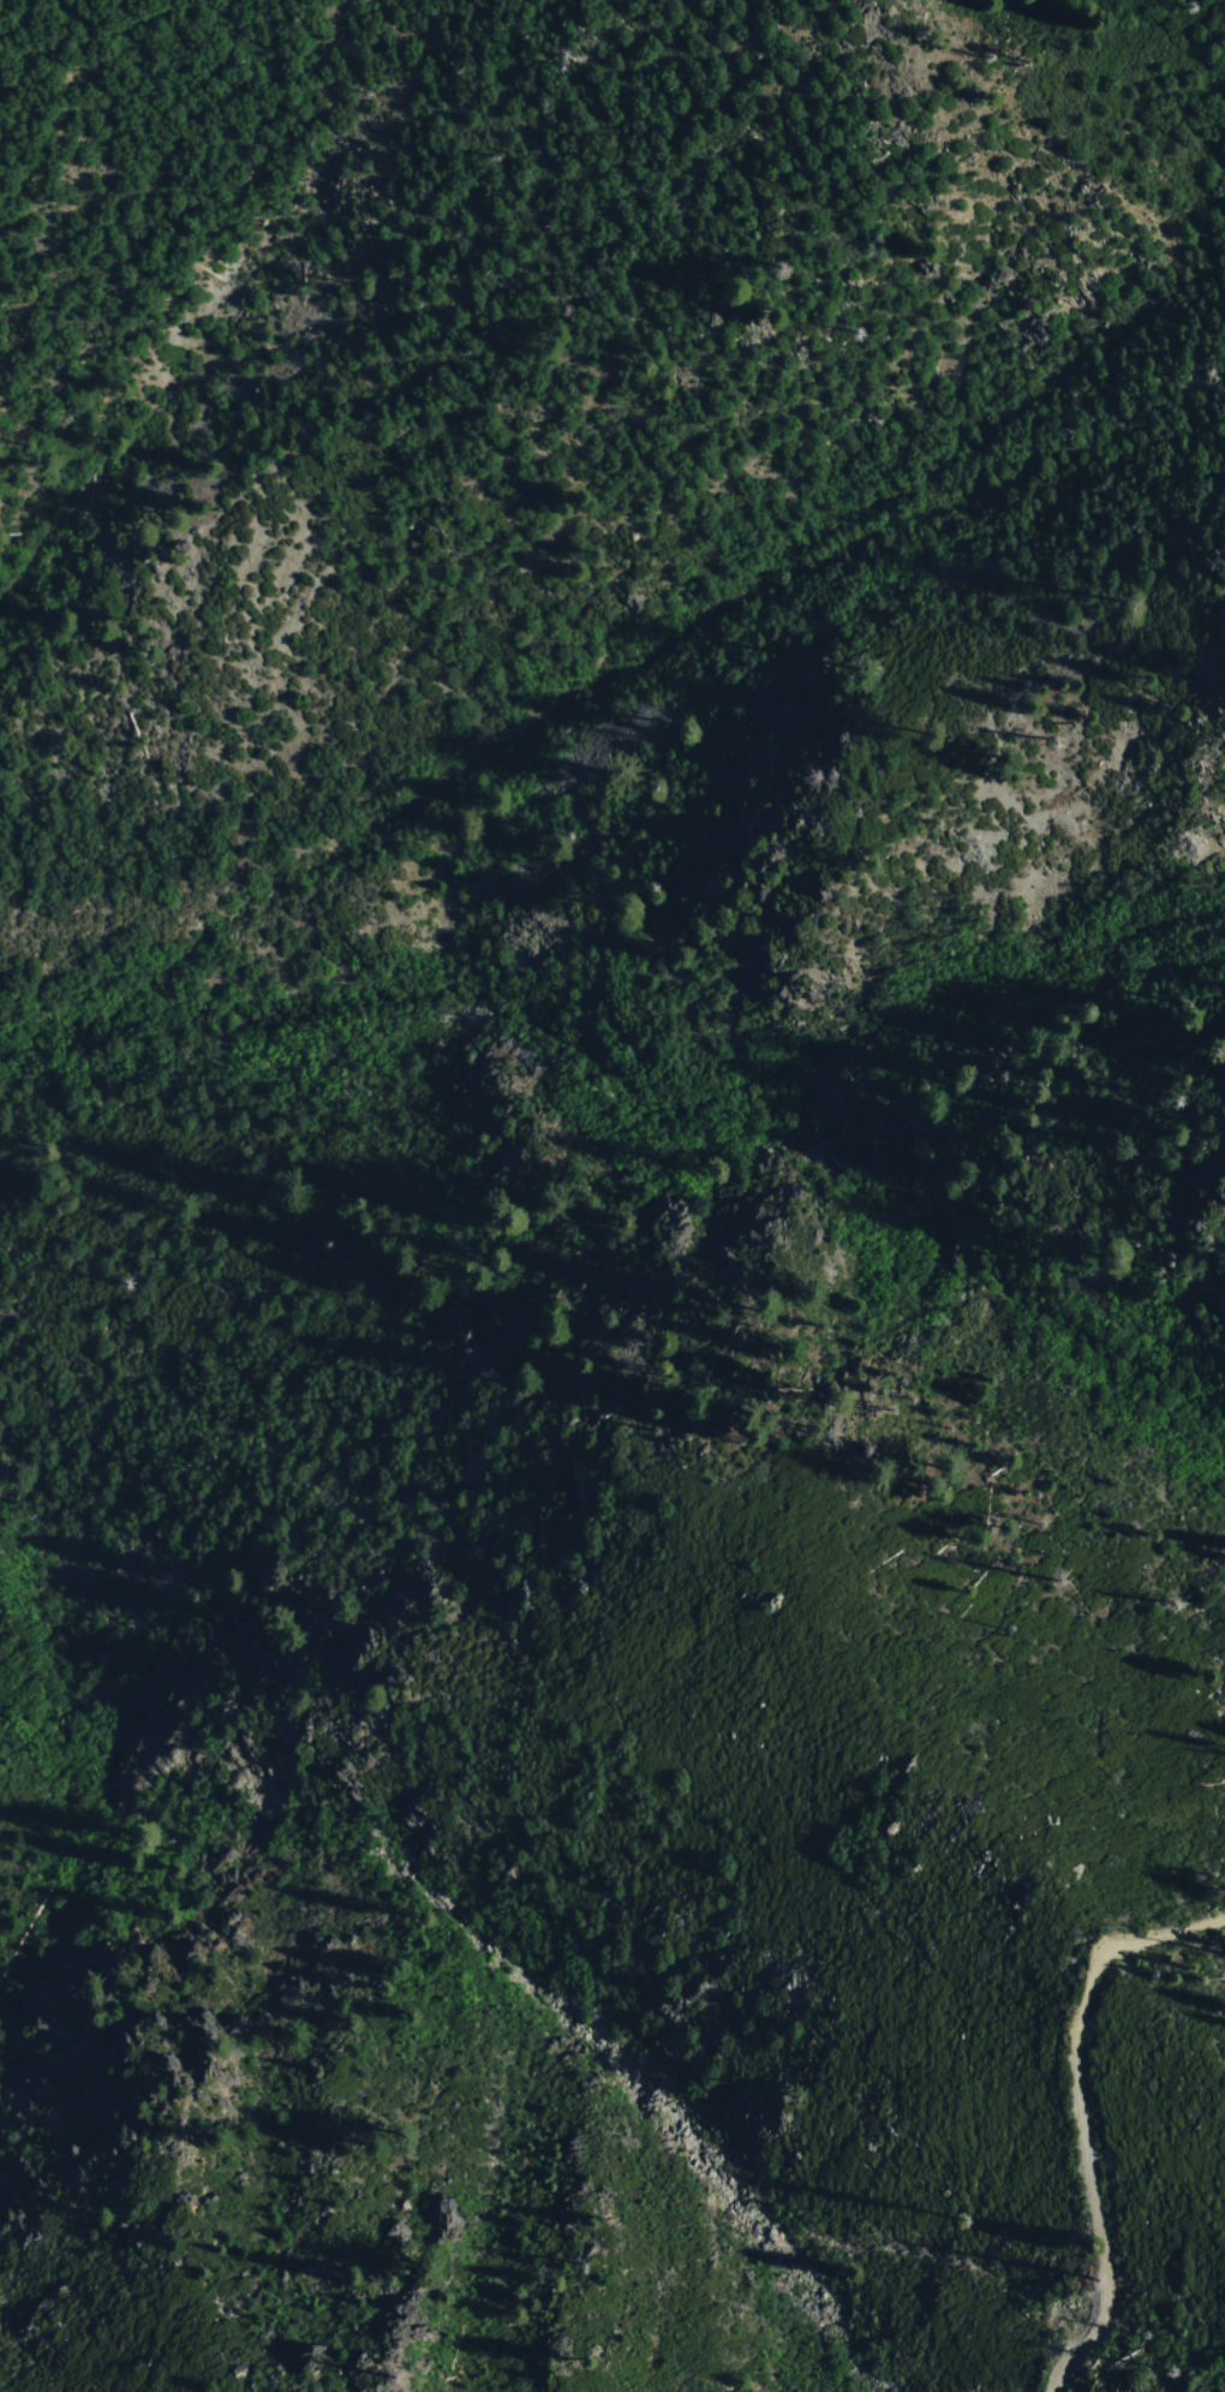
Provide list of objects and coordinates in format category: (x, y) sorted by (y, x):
road: (1029, 2100)

